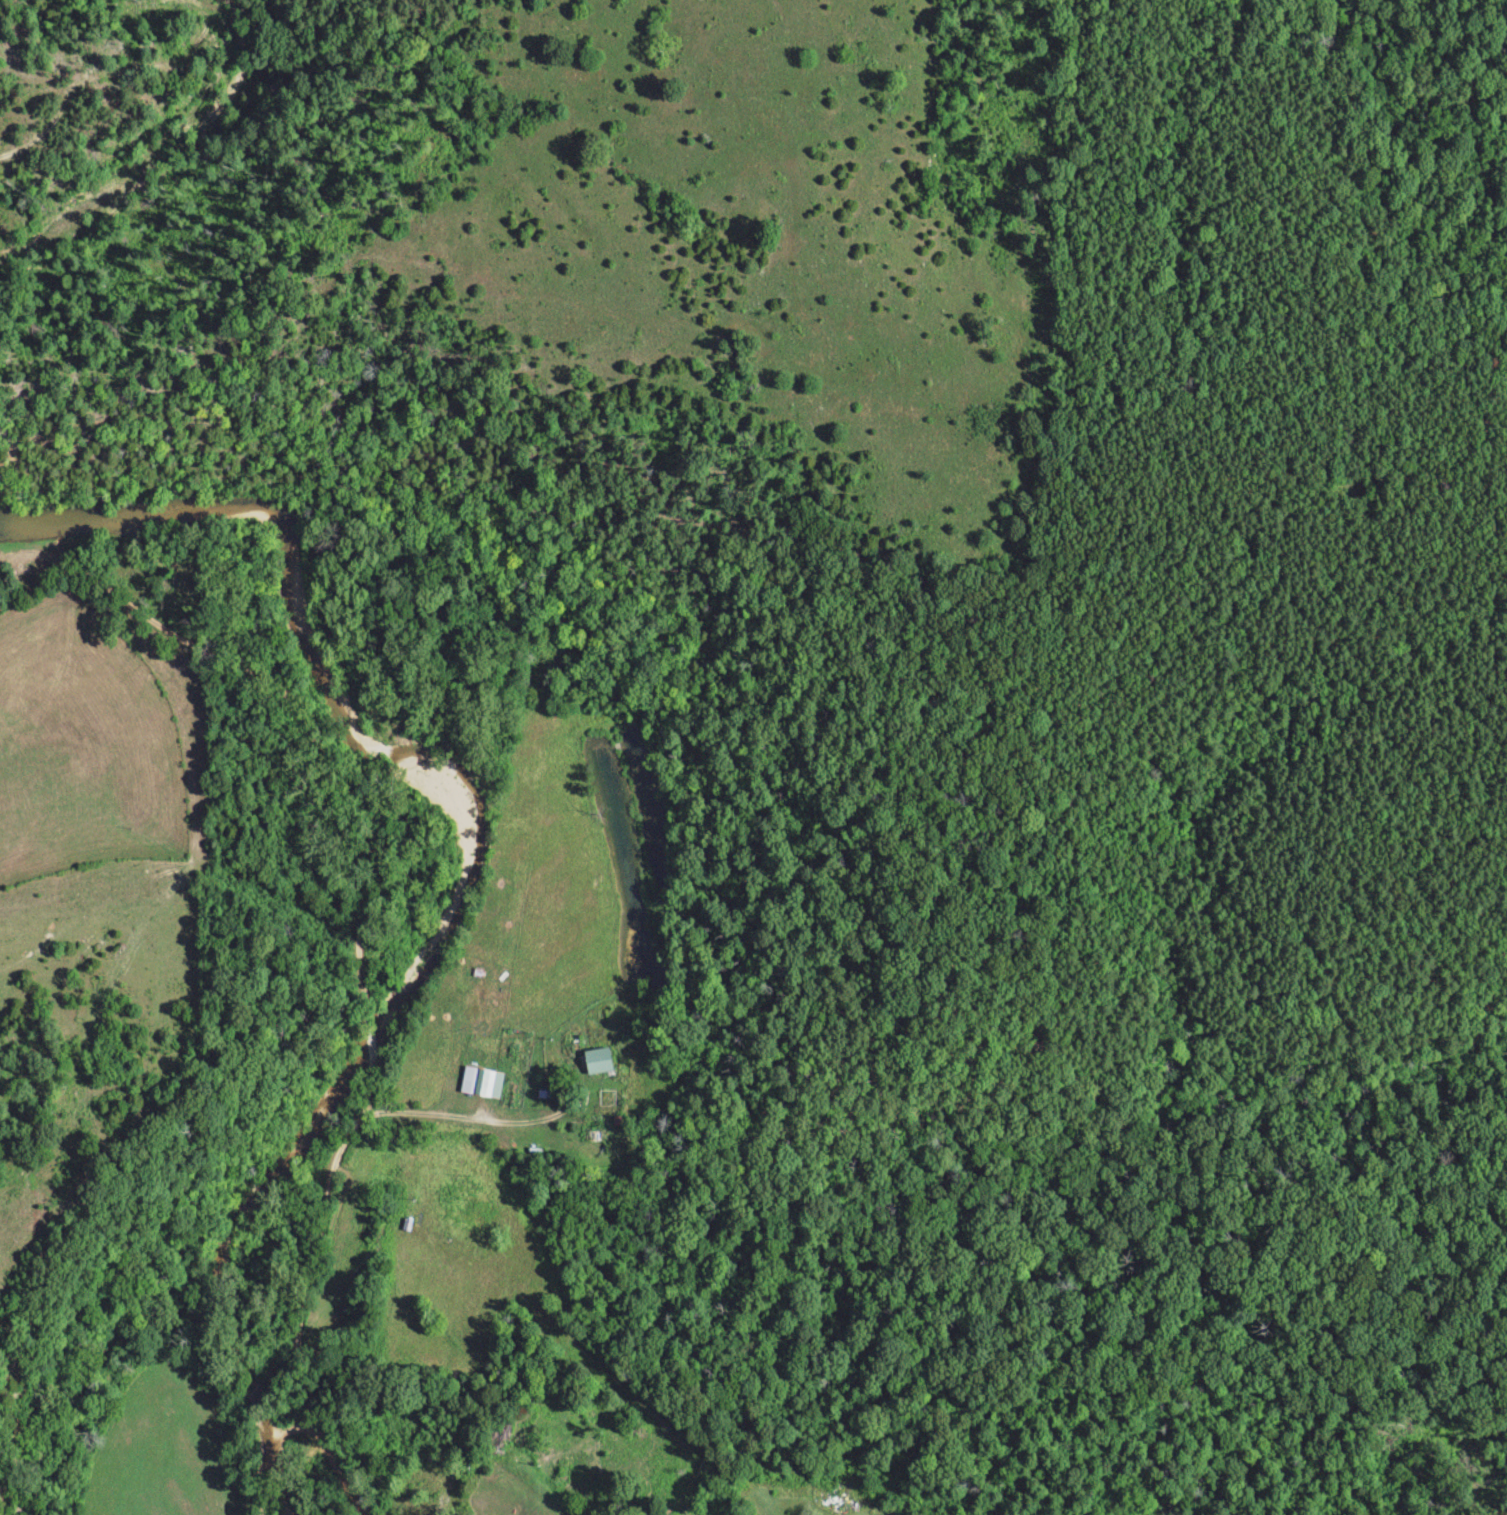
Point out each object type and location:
road: (307, 912)
building: (606, 1060)
building: (489, 1081)
road: (412, 1111)
road: (328, 1451)
road: (271, 1463)

